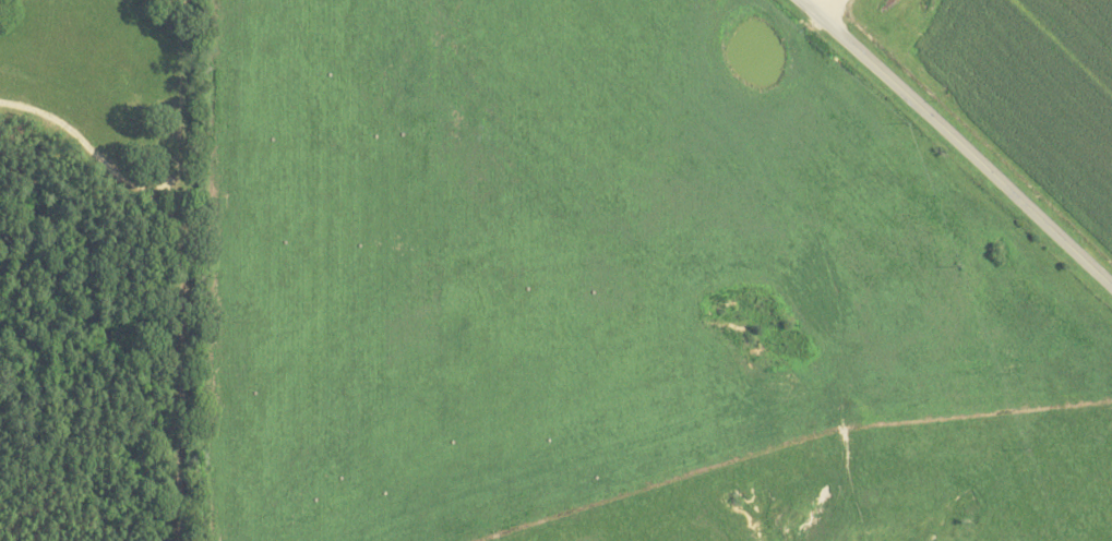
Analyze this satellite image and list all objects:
road: (833, 10)
road: (958, 141)

